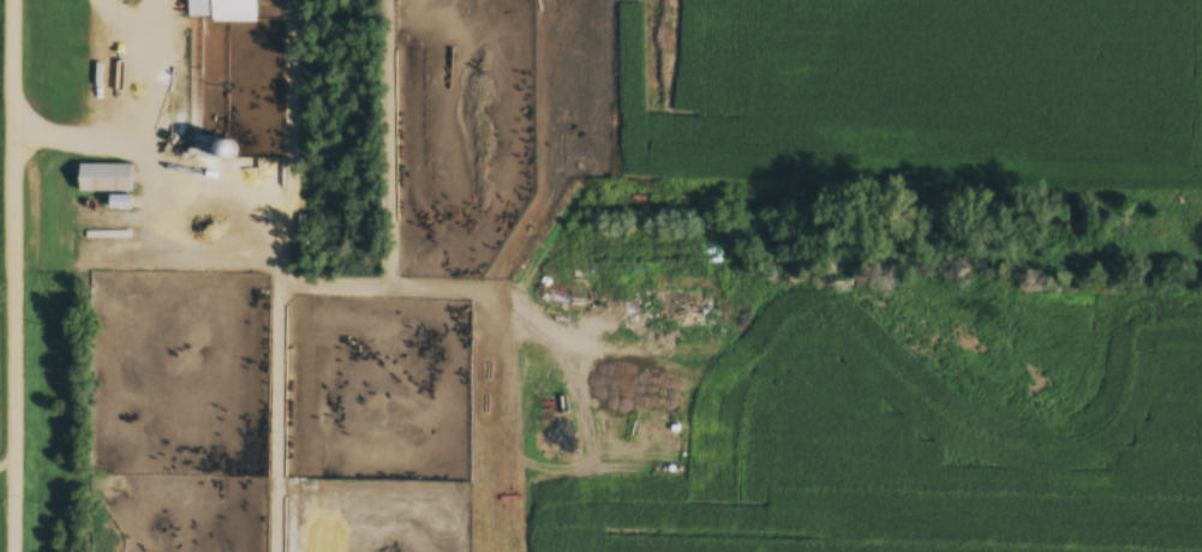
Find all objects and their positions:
building: (222, 11)
road: (128, 118)
building: (104, 179)
road: (8, 276)
road: (291, 281)

